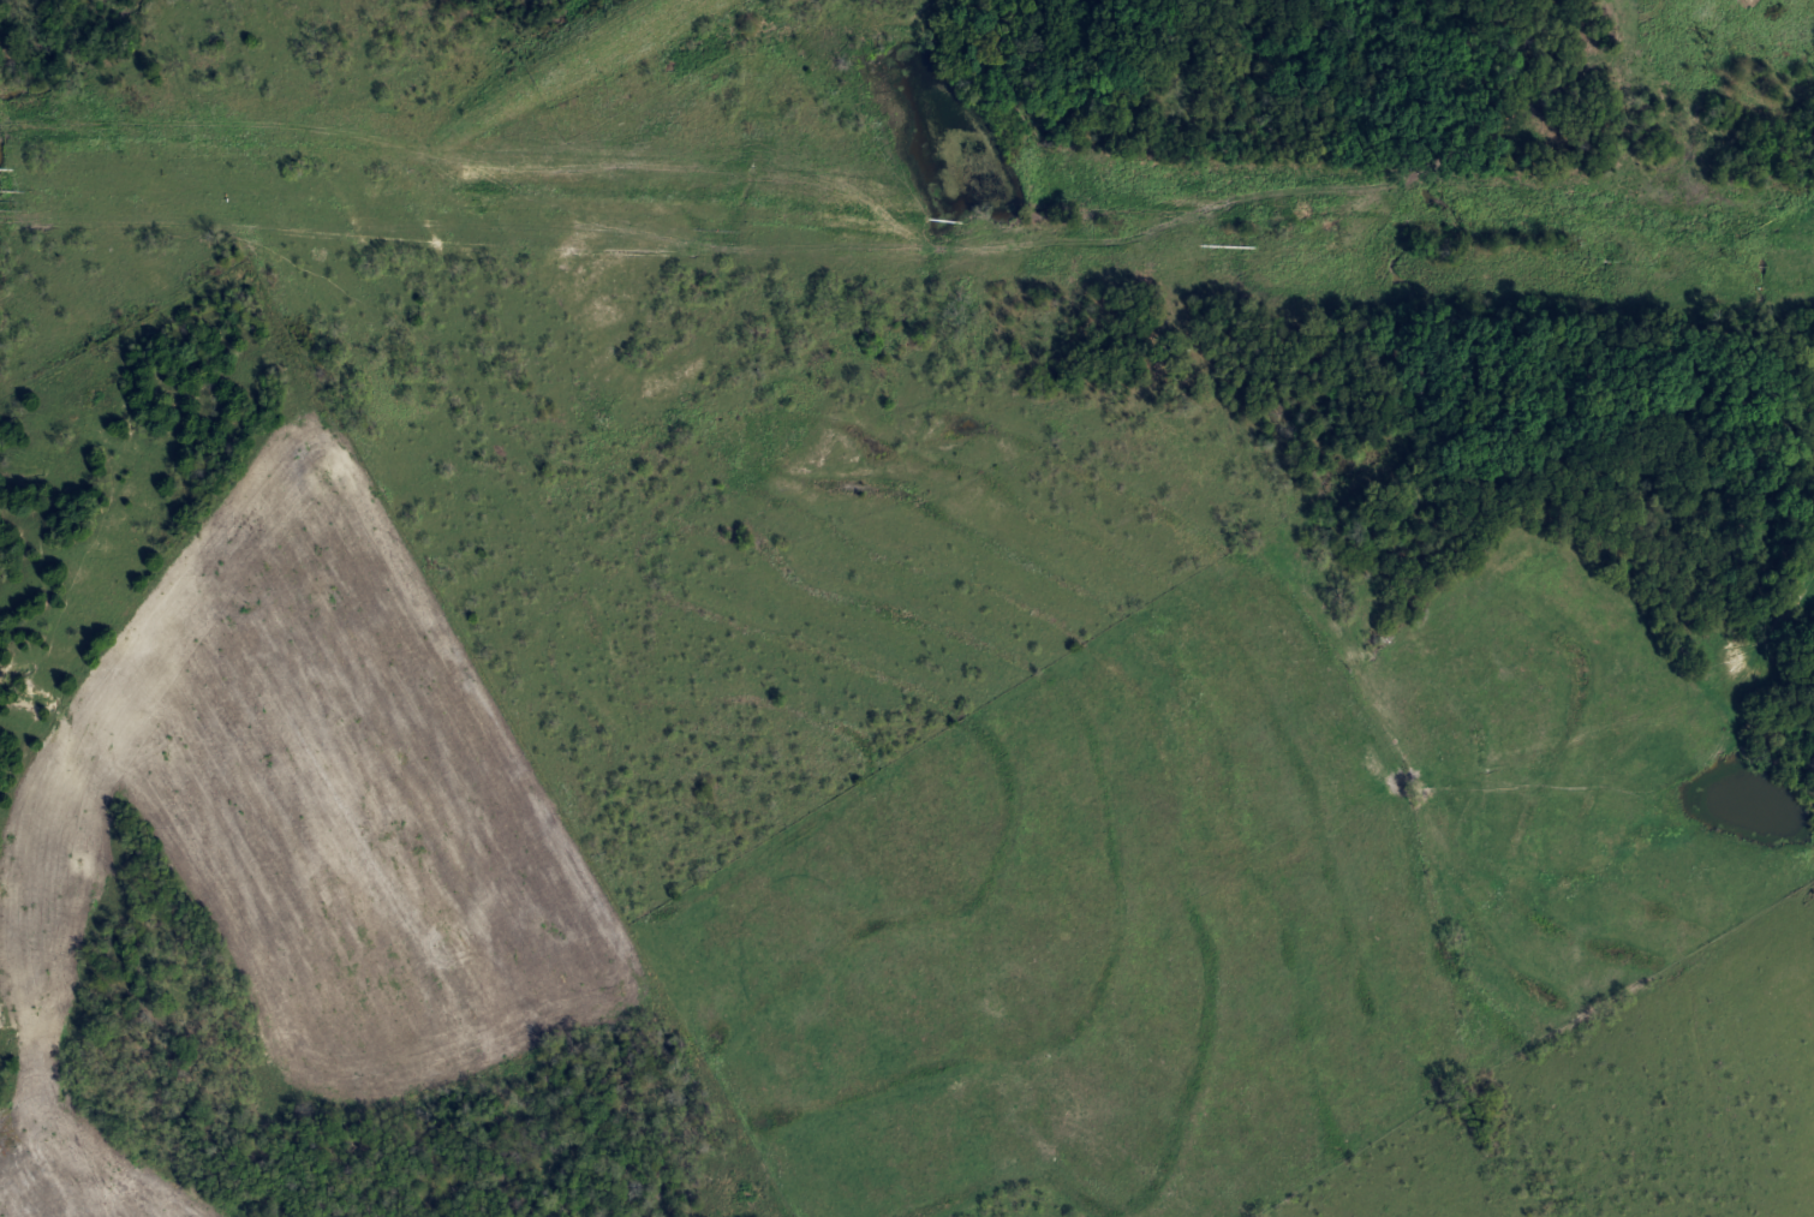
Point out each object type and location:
road: (1725, 696)

